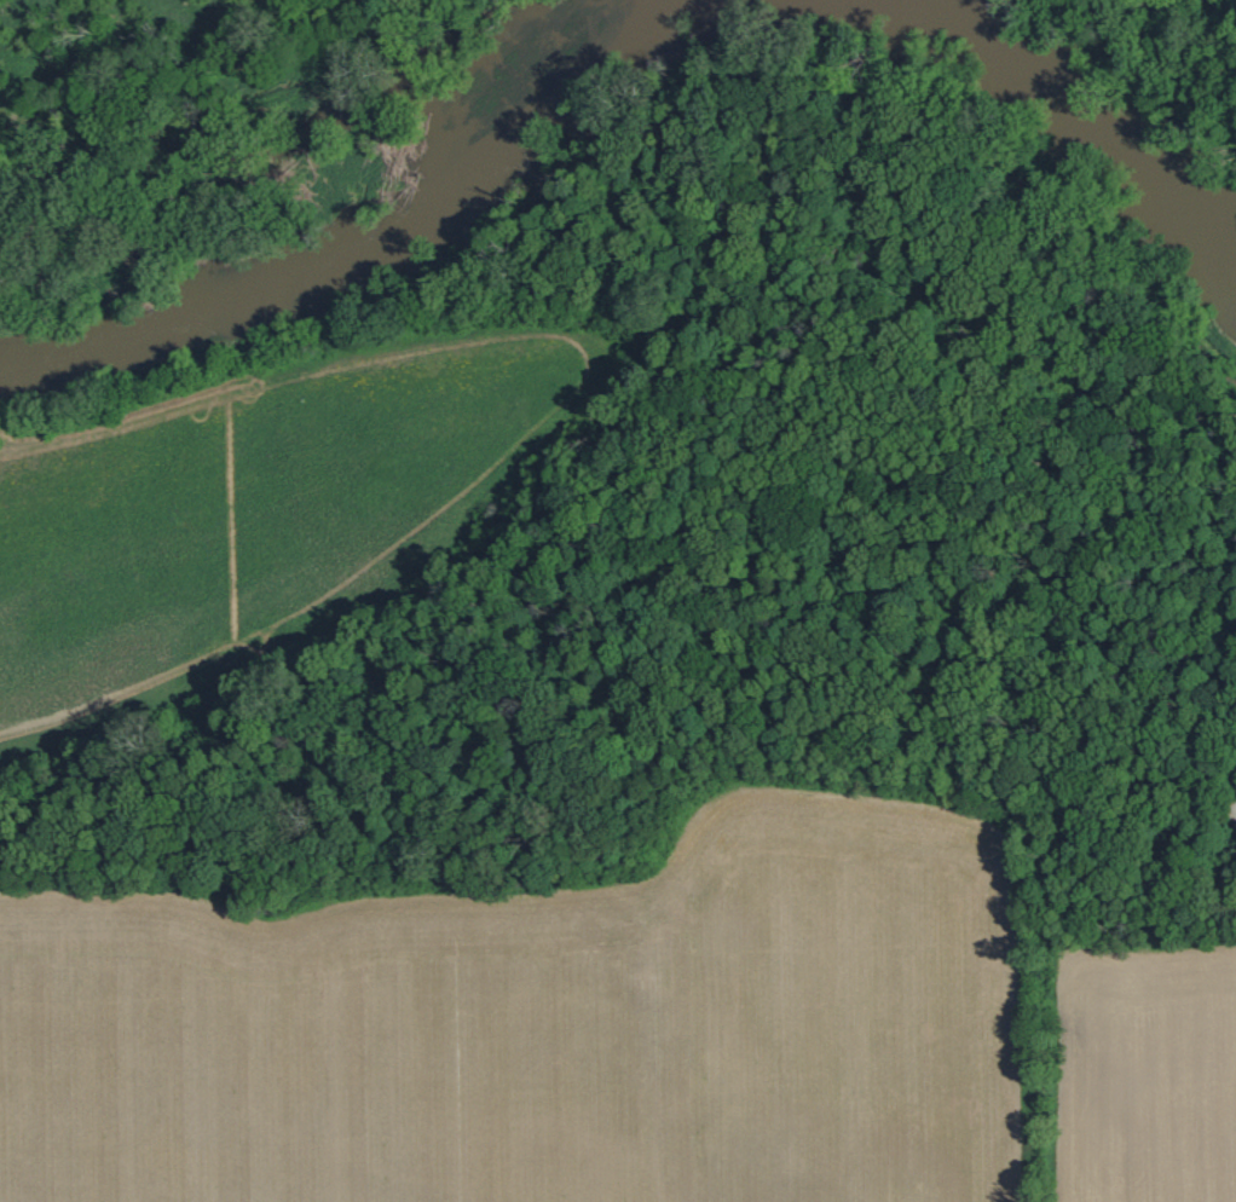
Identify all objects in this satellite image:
river: (1030, 98)
river: (399, 230)

